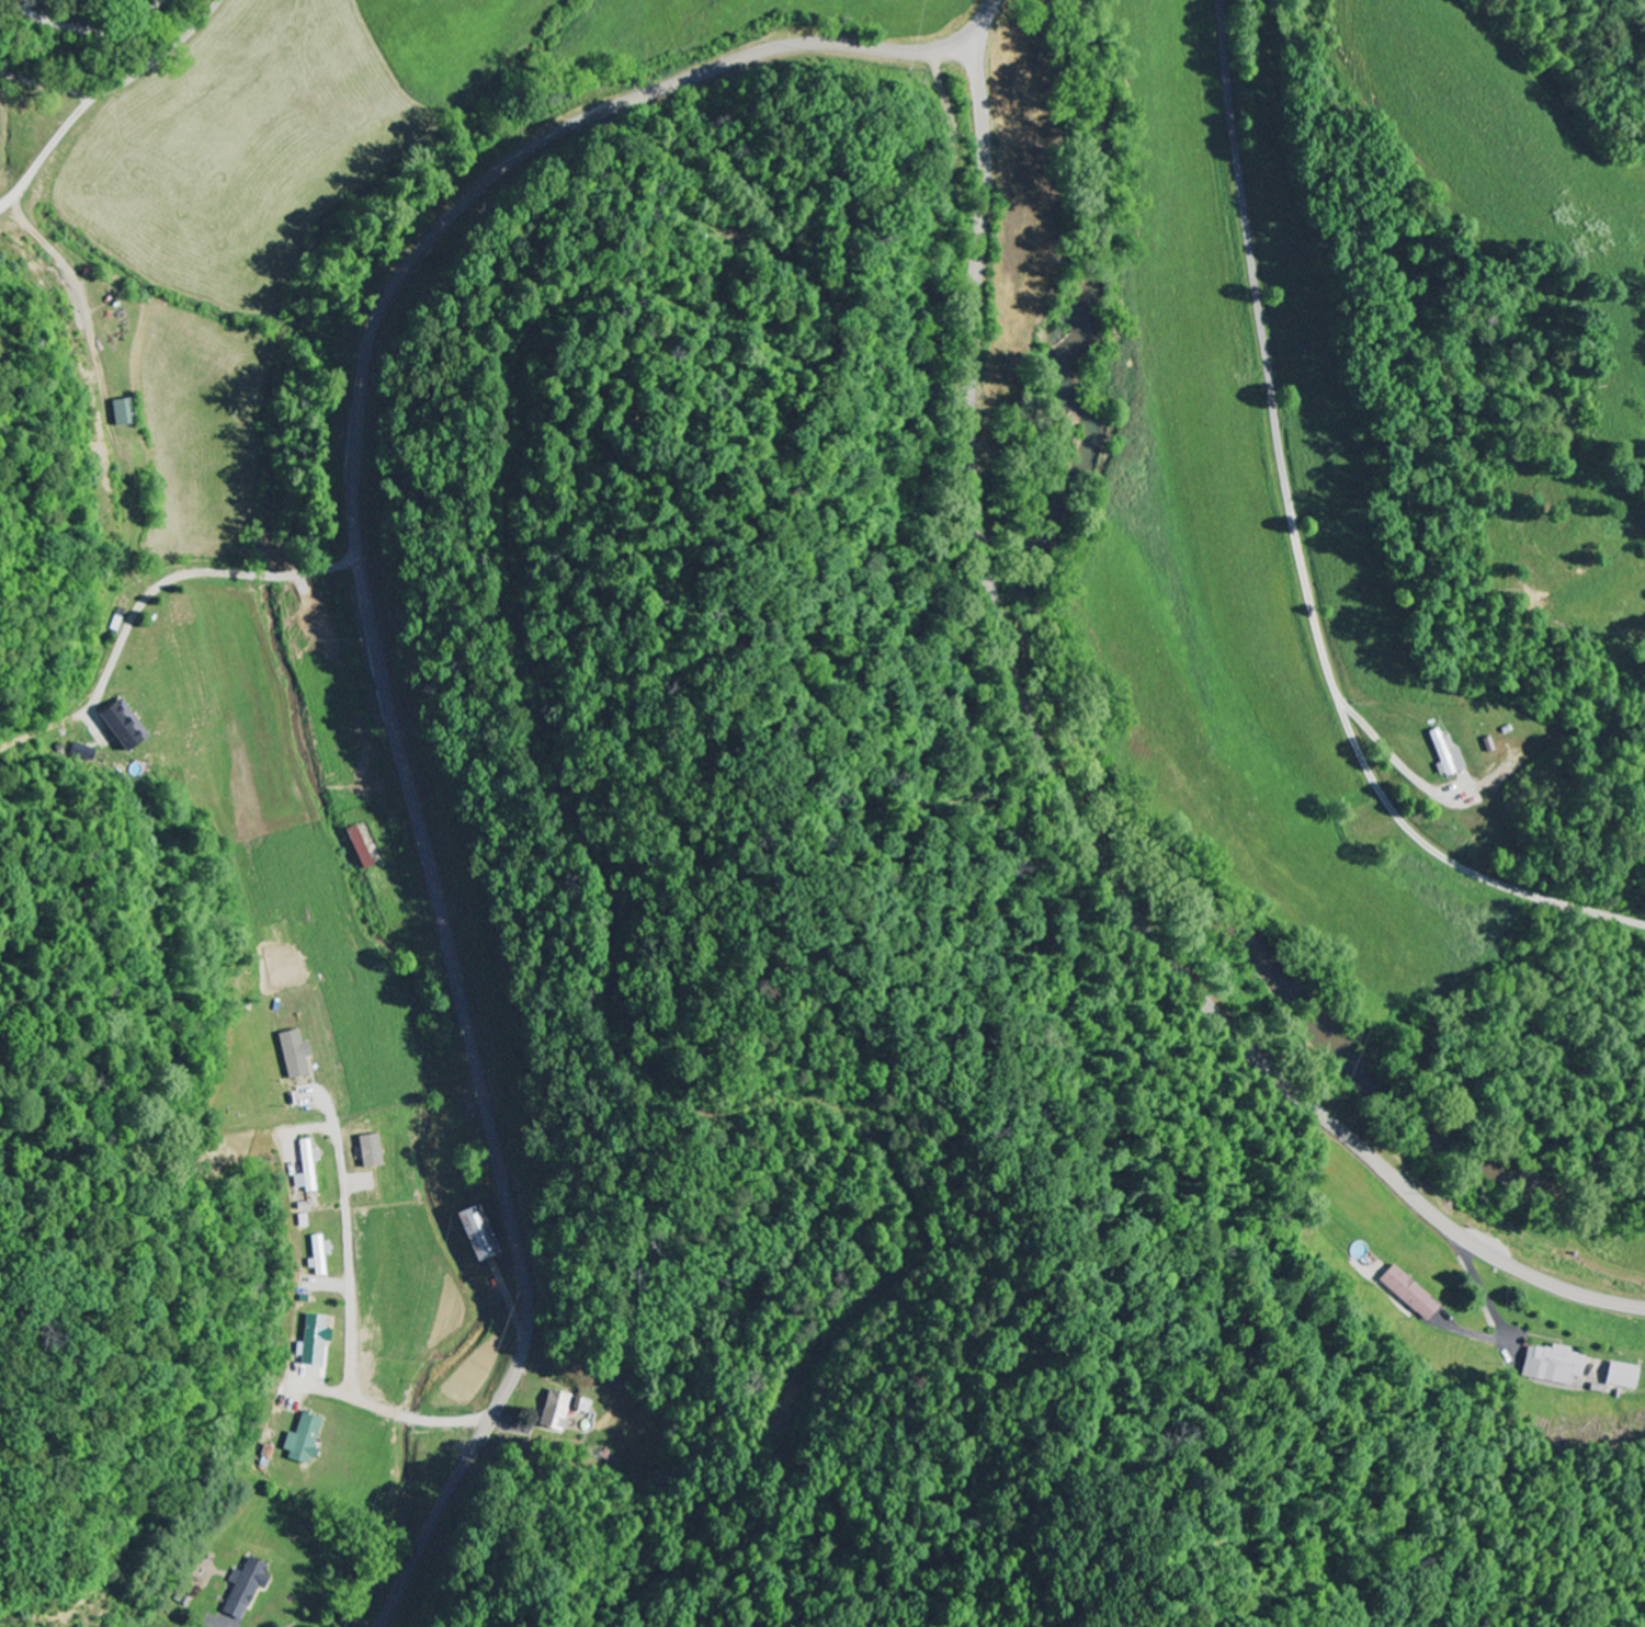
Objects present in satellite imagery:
road: (983, 12)
road: (126, 84)
building: (125, 413)
road: (211, 536)
road: (1302, 550)
road: (375, 642)
building: (122, 725)
river: (1107, 725)
building: (1445, 755)
road: (1074, 795)
building: (294, 1054)
building: (368, 1151)
building: (307, 1168)
building: (473, 1233)
building: (319, 1254)
building: (1408, 1293)
road: (353, 1311)
building: (315, 1341)
building: (1553, 1365)
building: (1622, 1376)
building: (560, 1411)
building: (303, 1441)
building: (243, 1588)

